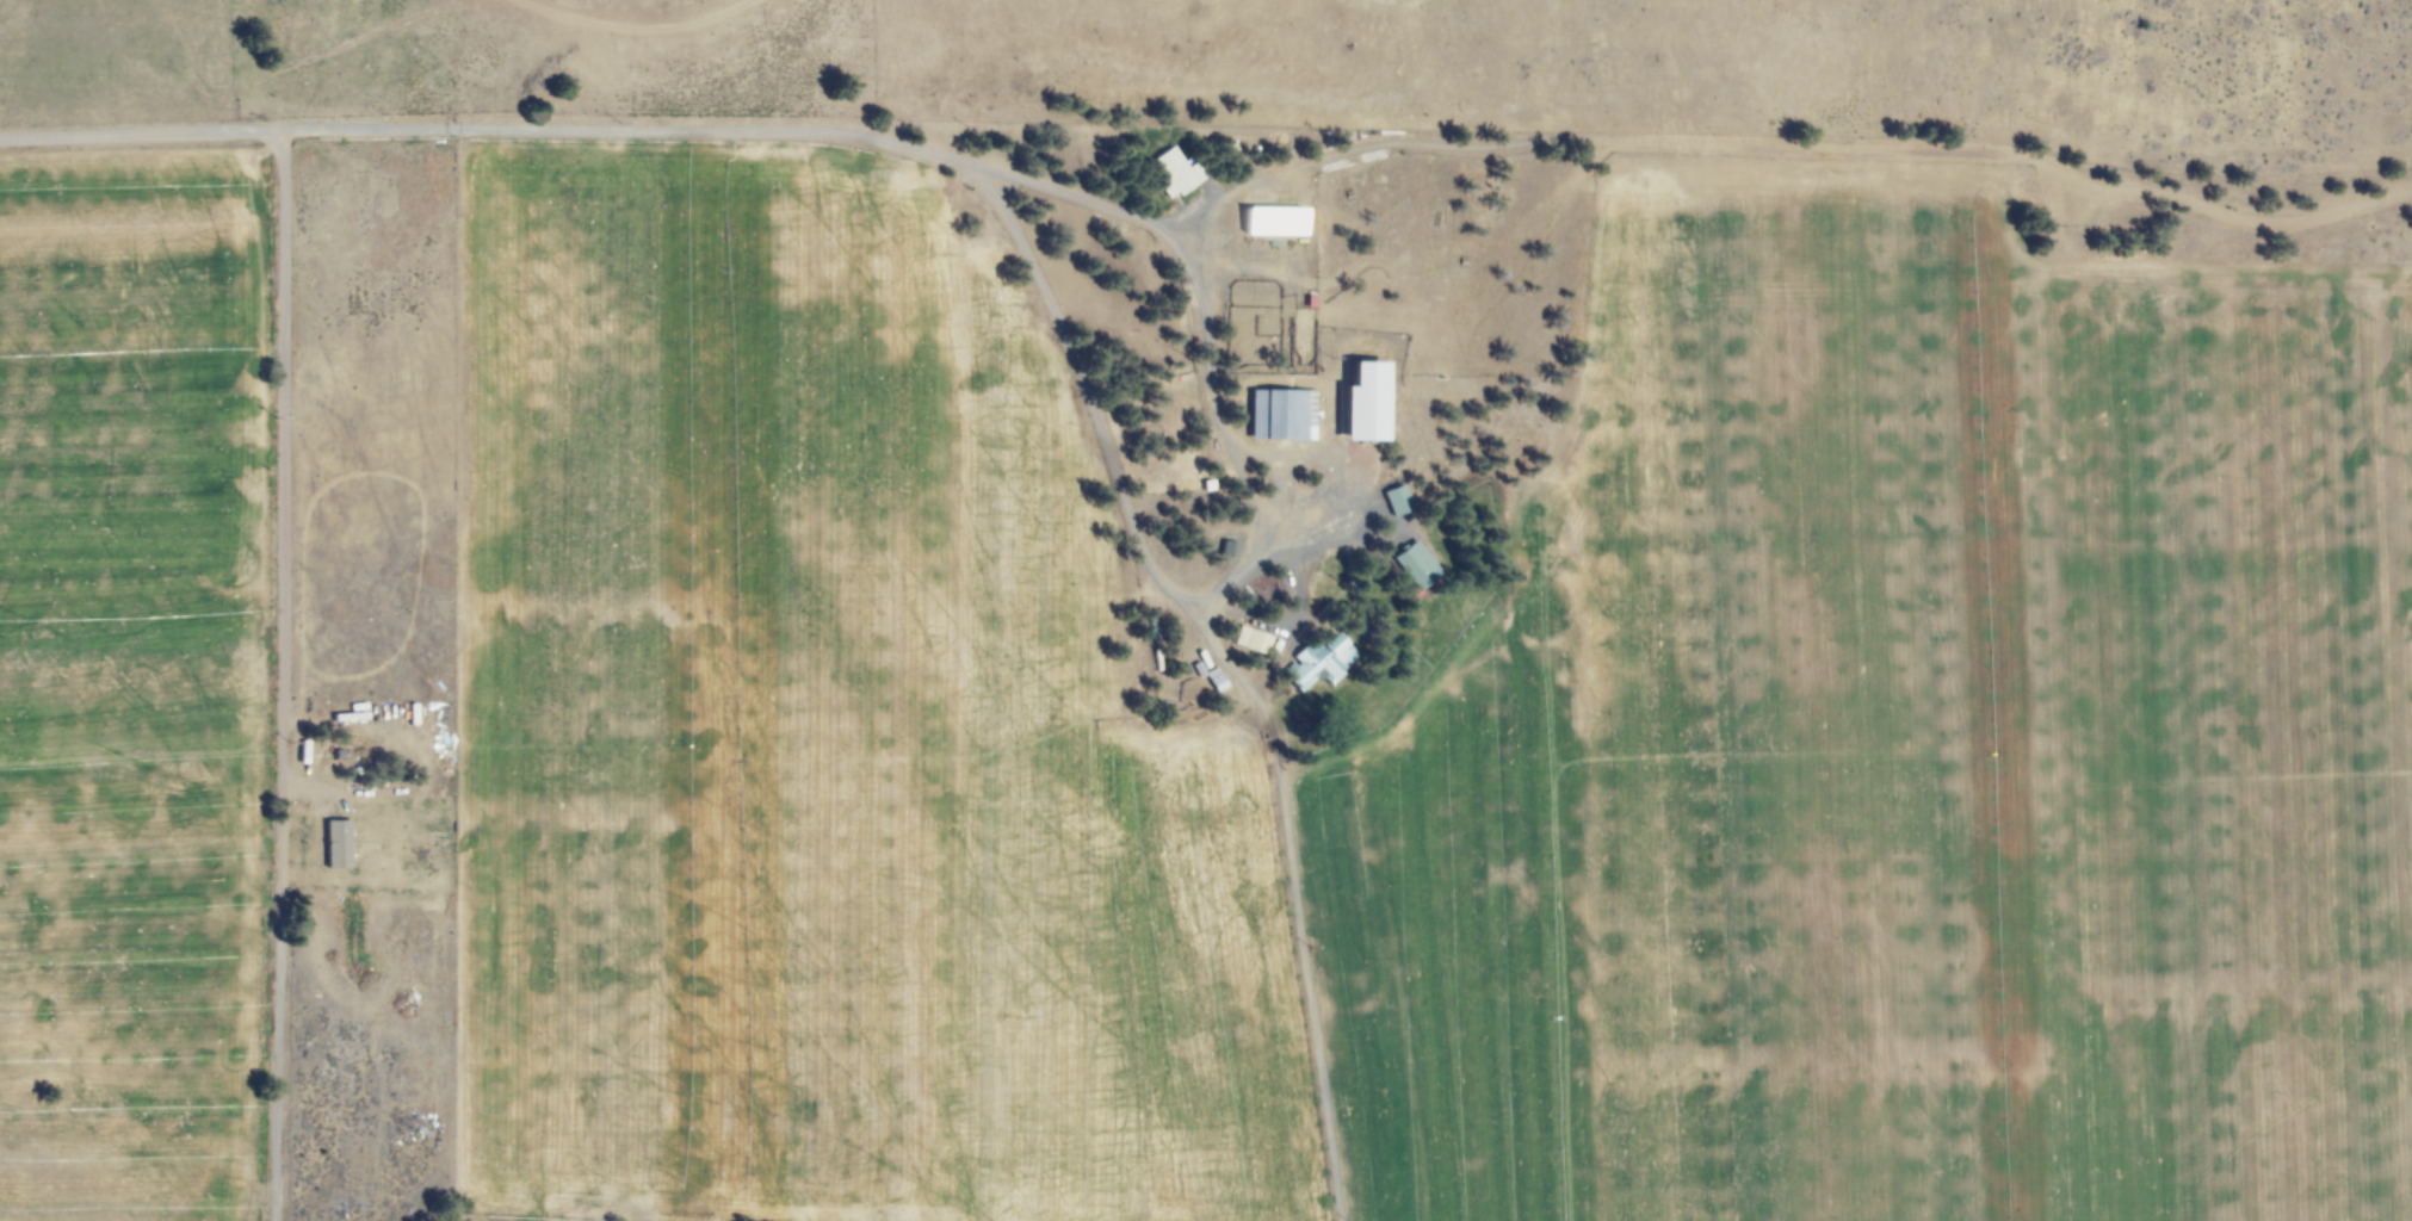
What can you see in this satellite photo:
road: (935, 155)
building: (1173, 173)
building: (1267, 221)
building: (1356, 403)
building: (1276, 415)
building: (1393, 500)
road: (280, 540)
building: (1411, 565)
building: (1248, 640)
building: (1317, 662)
building: (333, 844)

